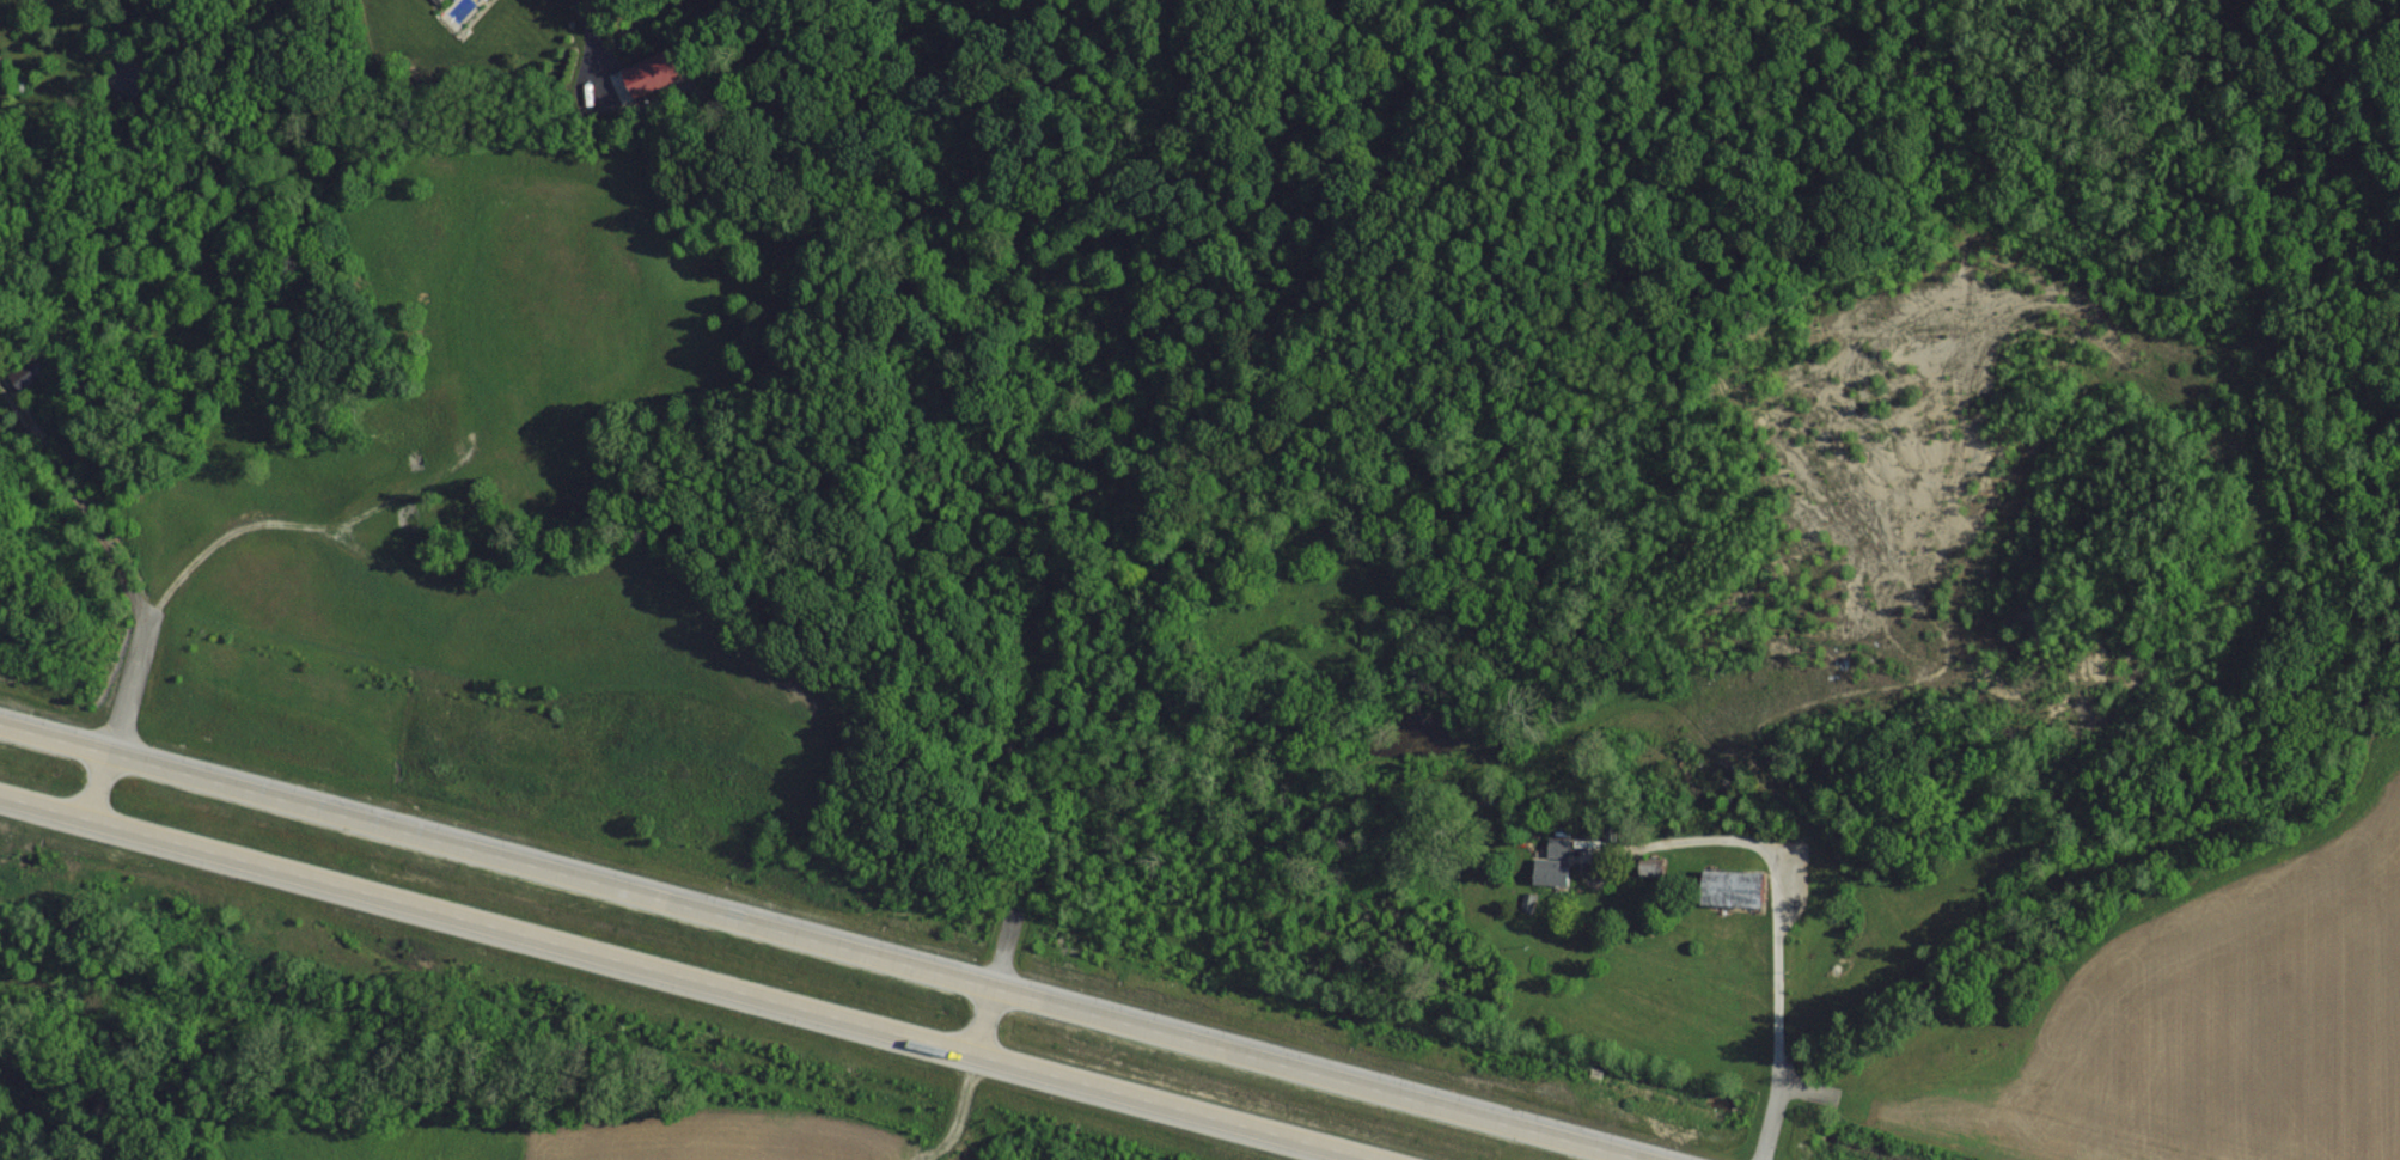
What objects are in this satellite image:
road: (587, 18)
building: (31, 370)
road: (128, 586)
building: (1546, 871)
building: (1720, 887)
road: (1776, 934)
road: (823, 941)
road: (691, 977)
road: (983, 1020)

